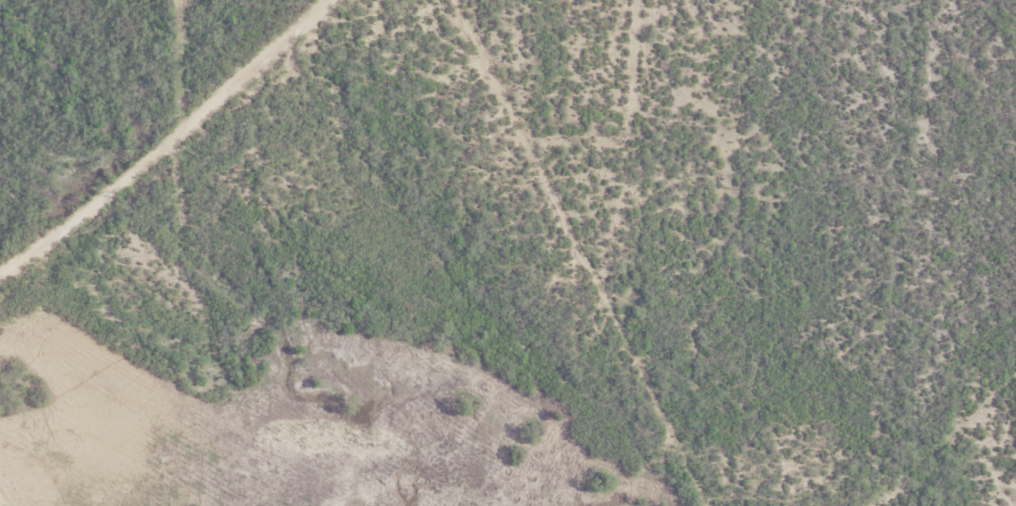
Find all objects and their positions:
road: (170, 141)

